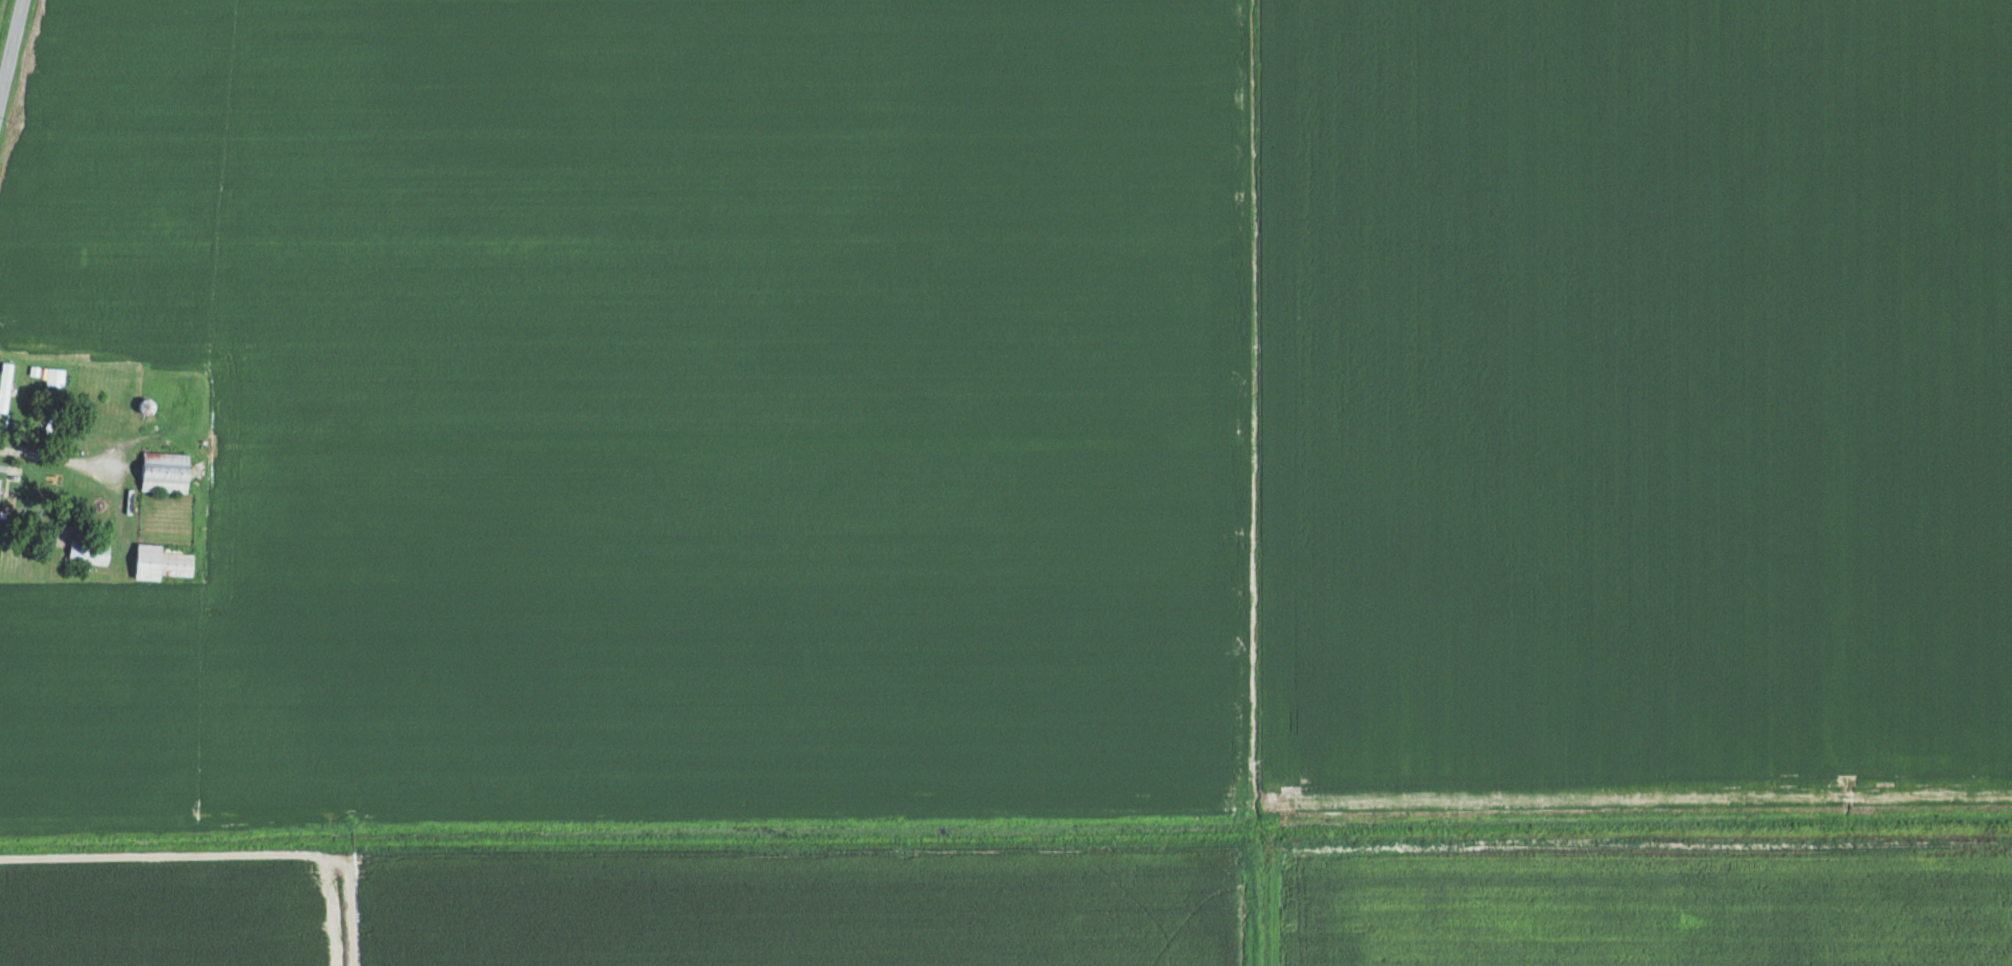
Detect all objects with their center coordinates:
road: (10, 45)
building: (56, 376)
building: (5, 385)
building: (146, 405)
building: (166, 471)
building: (27, 484)
building: (89, 551)
building: (162, 562)

